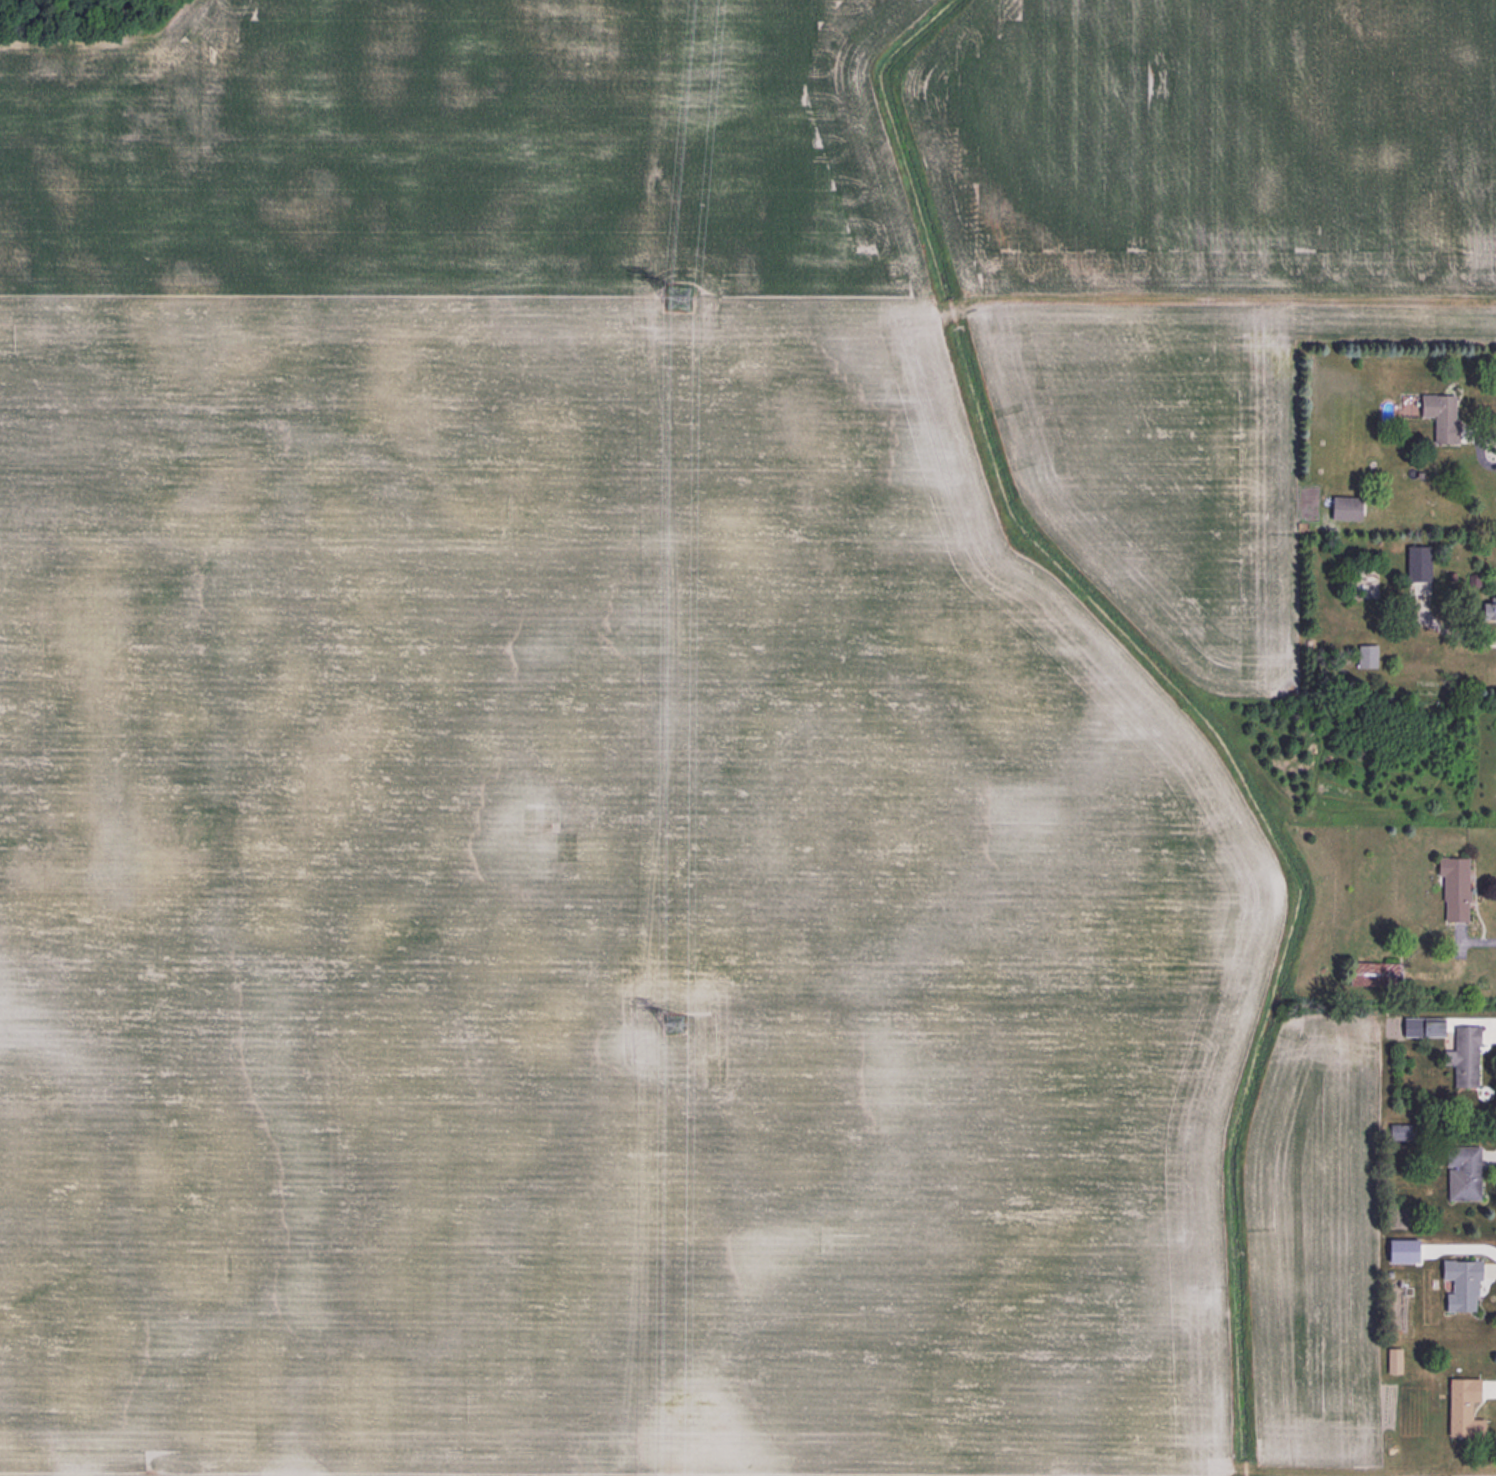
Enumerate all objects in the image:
power tower: (675, 296)
building: (1439, 415)
road: (1474, 445)
building: (1343, 508)
building: (1416, 566)
building: (1485, 608)
building: (1369, 652)
building: (1452, 881)
building: (1380, 974)
power tower: (670, 1024)
building: (1420, 1027)
building: (1462, 1056)
building: (1462, 1173)
building: (1459, 1285)
building: (1393, 1361)
building: (1461, 1410)

